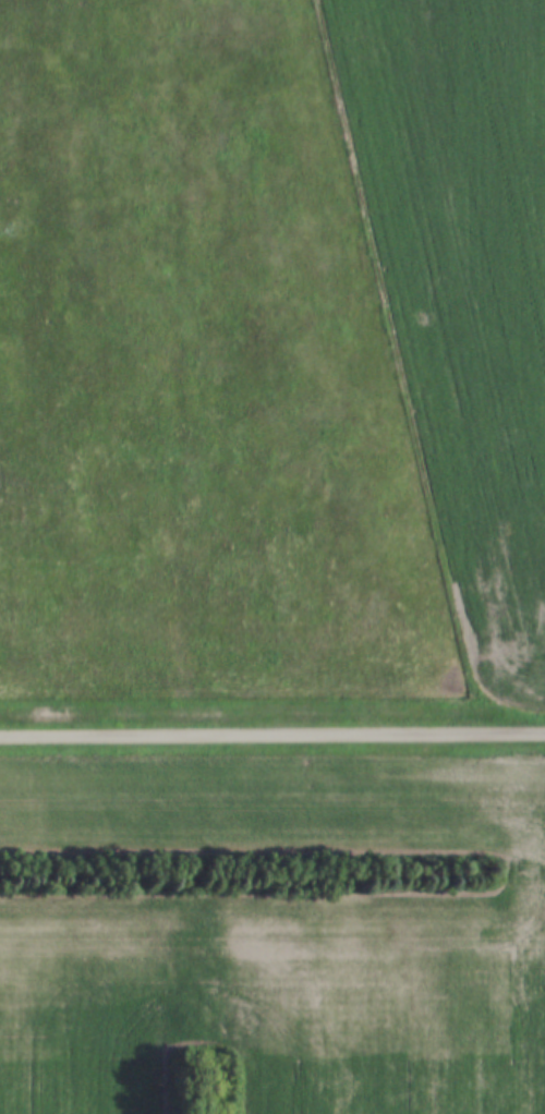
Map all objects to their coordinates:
road: (272, 732)

